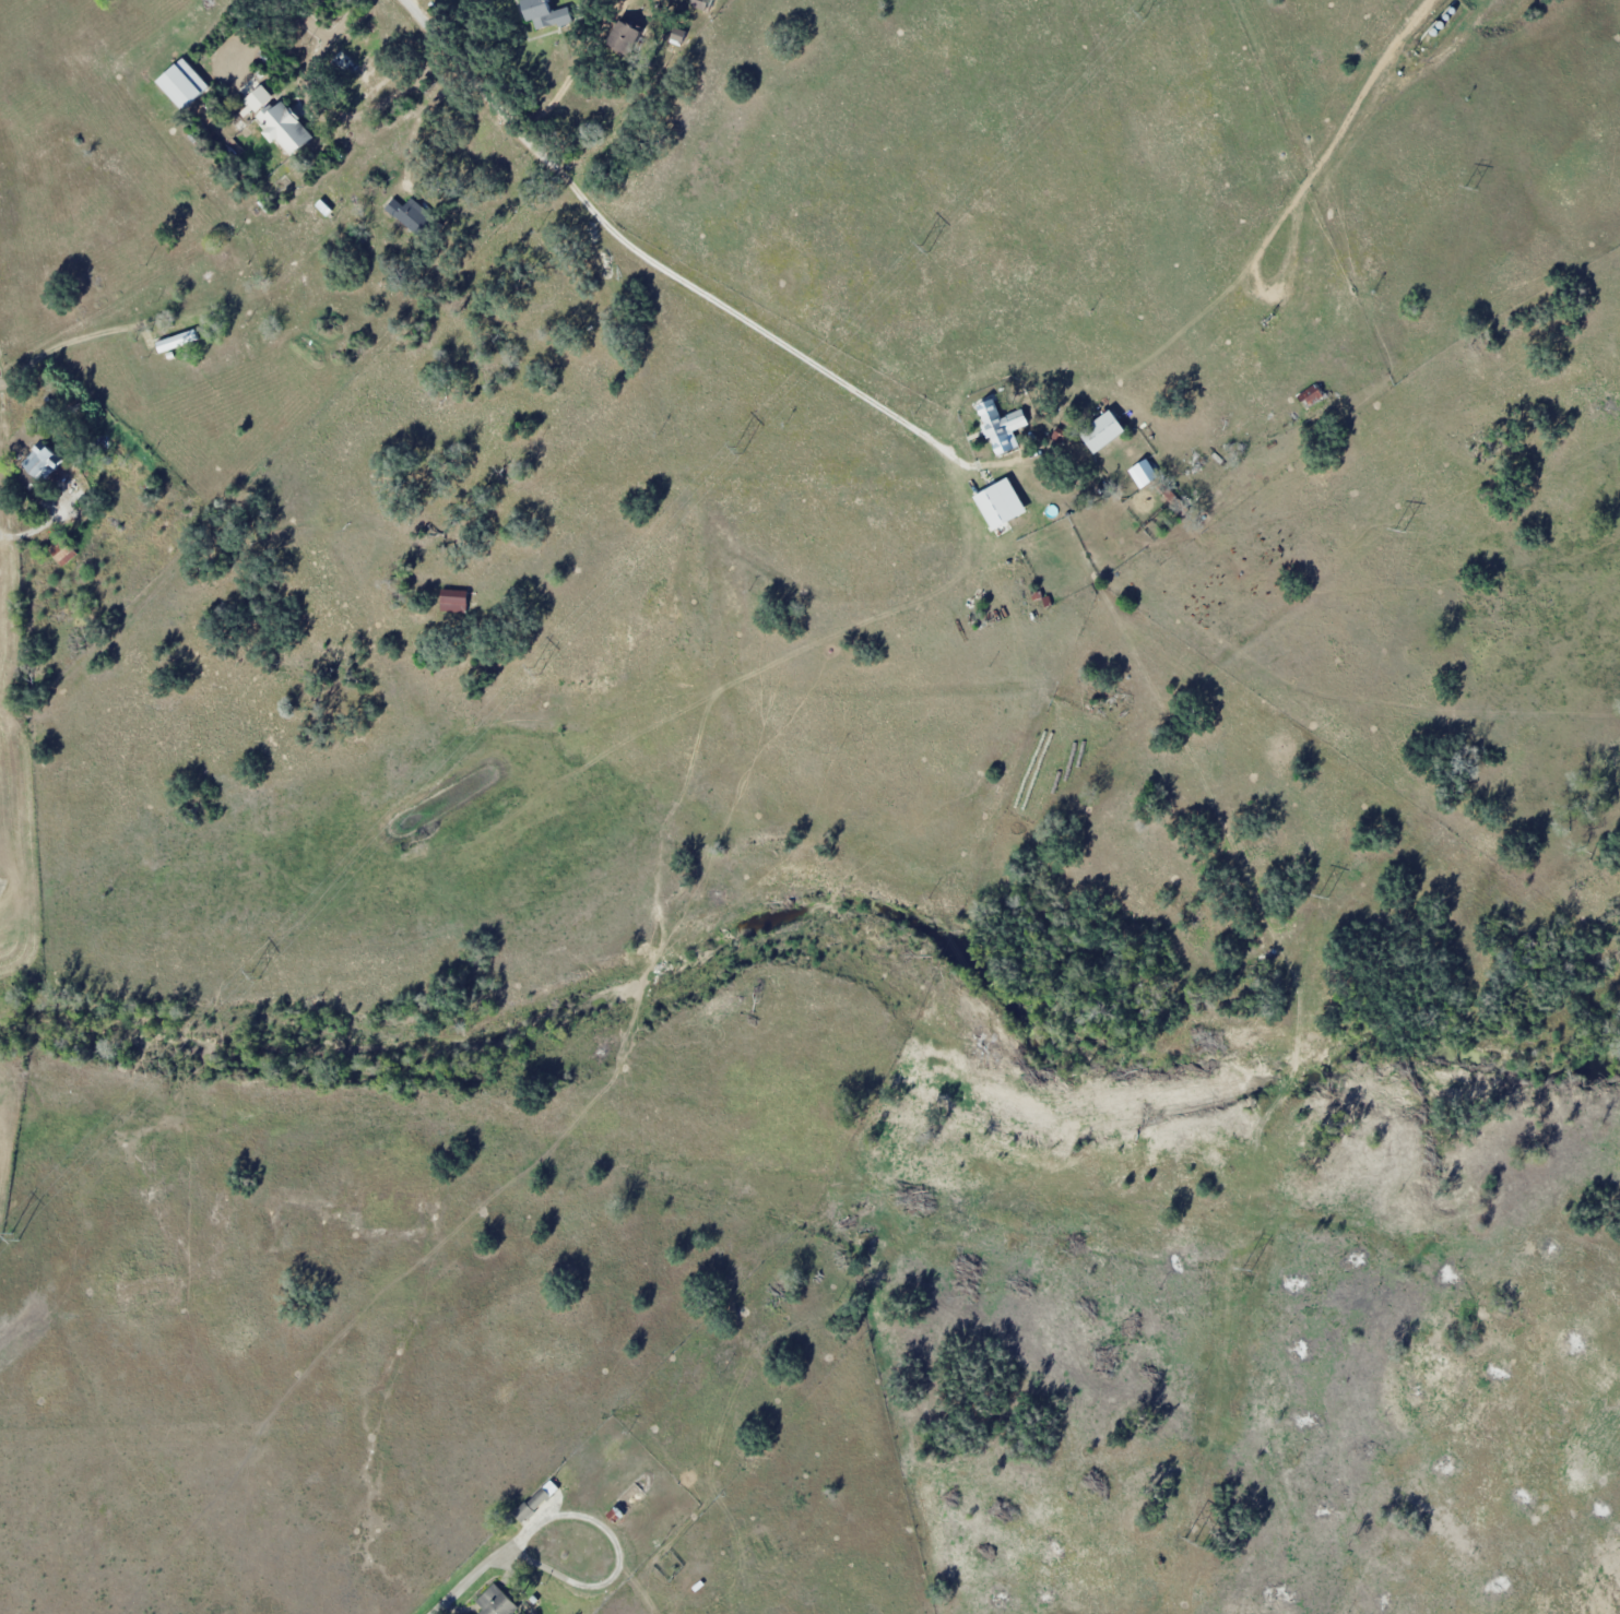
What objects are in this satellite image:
building: (545, 15)
power tower: (1140, 15)
building: (360, 78)
road: (474, 81)
building: (186, 84)
building: (288, 129)
power tower: (1468, 187)
power tower: (923, 249)
road: (769, 336)
building: (179, 342)
building: (1311, 405)
building: (1007, 424)
building: (1239, 428)
building: (1109, 431)
power tower: (736, 451)
building: (37, 453)
power tower: (1398, 529)
building: (66, 553)
power tower: (534, 669)
power tower: (1323, 895)
power tower: (255, 974)
power tower: (12, 1237)
power tower: (1245, 1269)
power tower: (1193, 1540)
road: (448, 1598)
building: (499, 1603)

